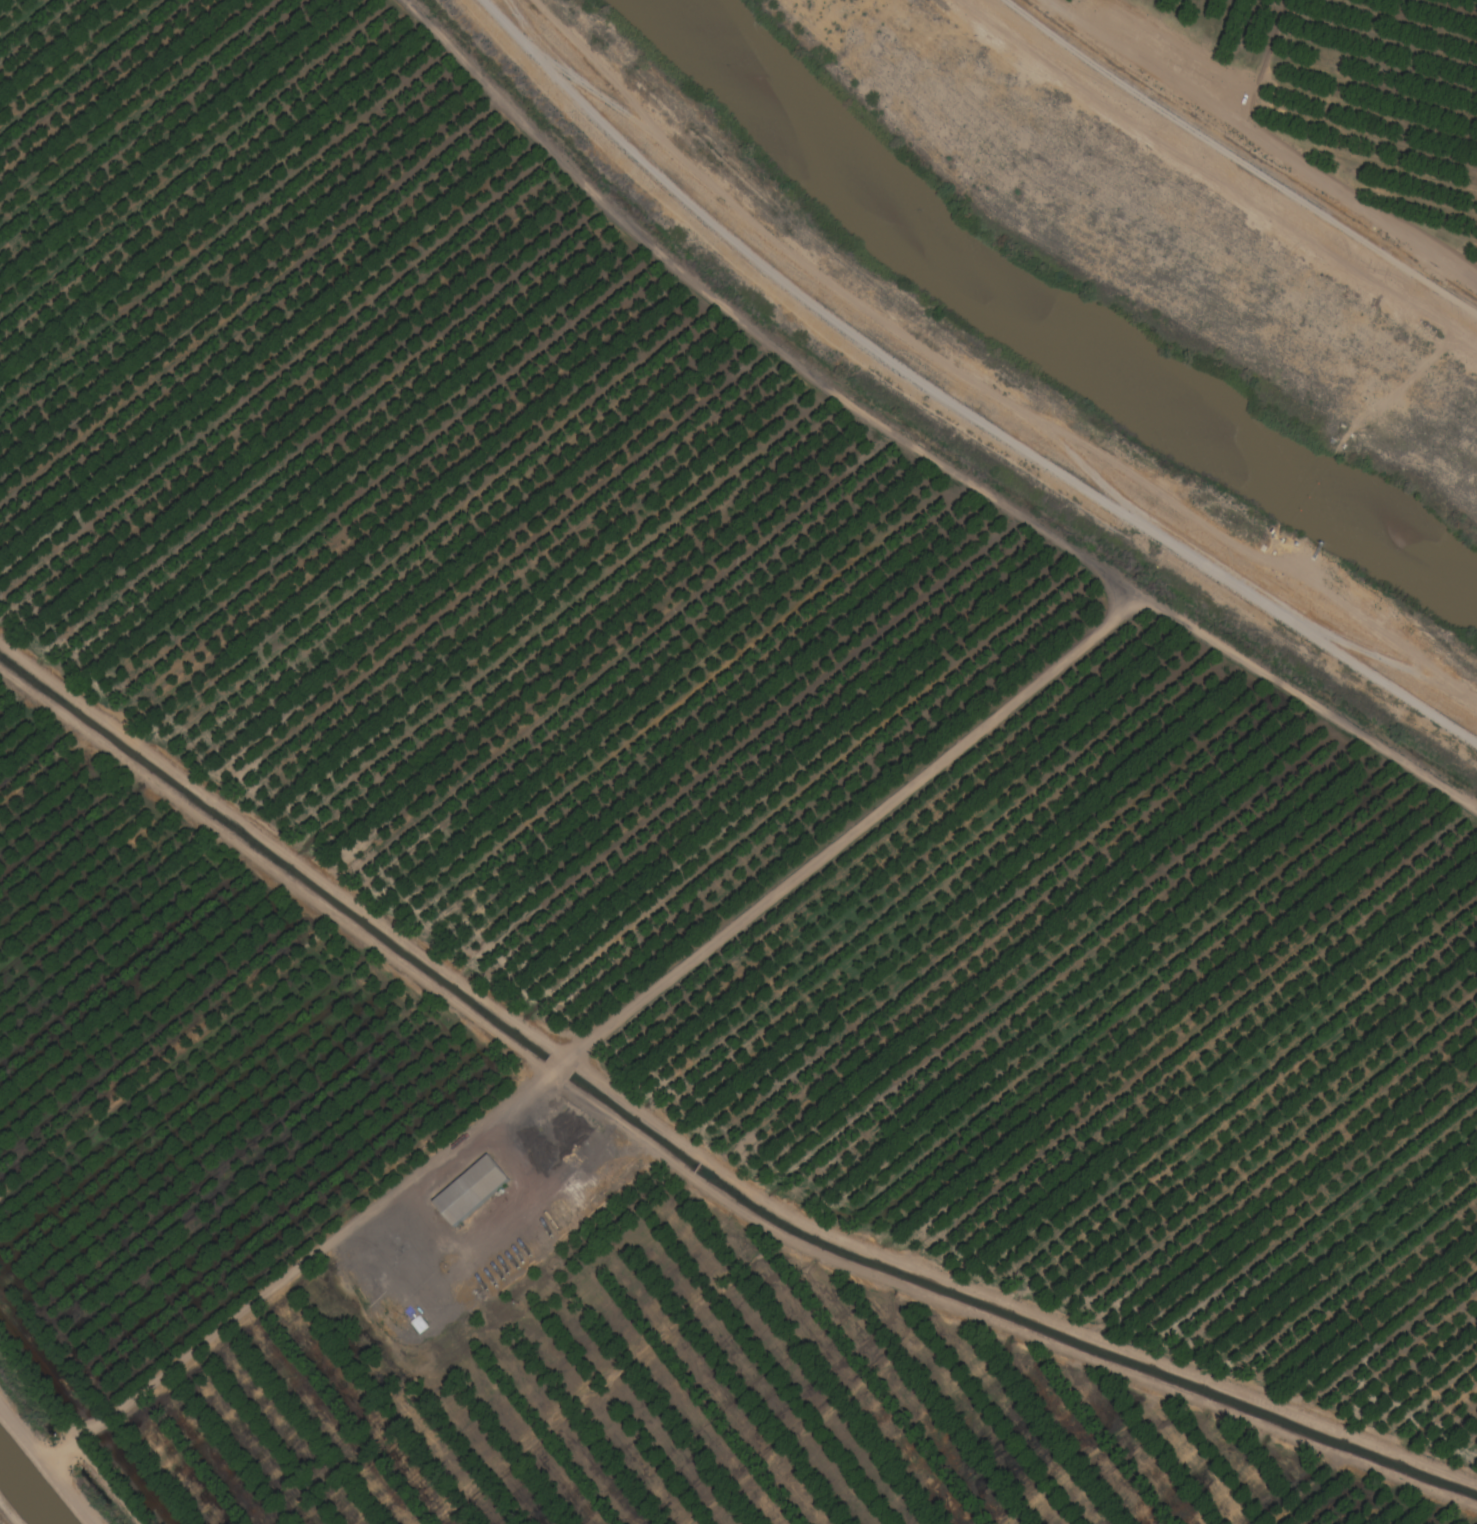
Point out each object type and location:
road: (1215, 186)
road: (1434, 281)
river: (1044, 329)
road: (955, 403)
road: (915, 440)
road: (593, 1032)
road: (691, 1150)
building: (475, 1191)
road: (47, 1463)
road: (8, 1513)

